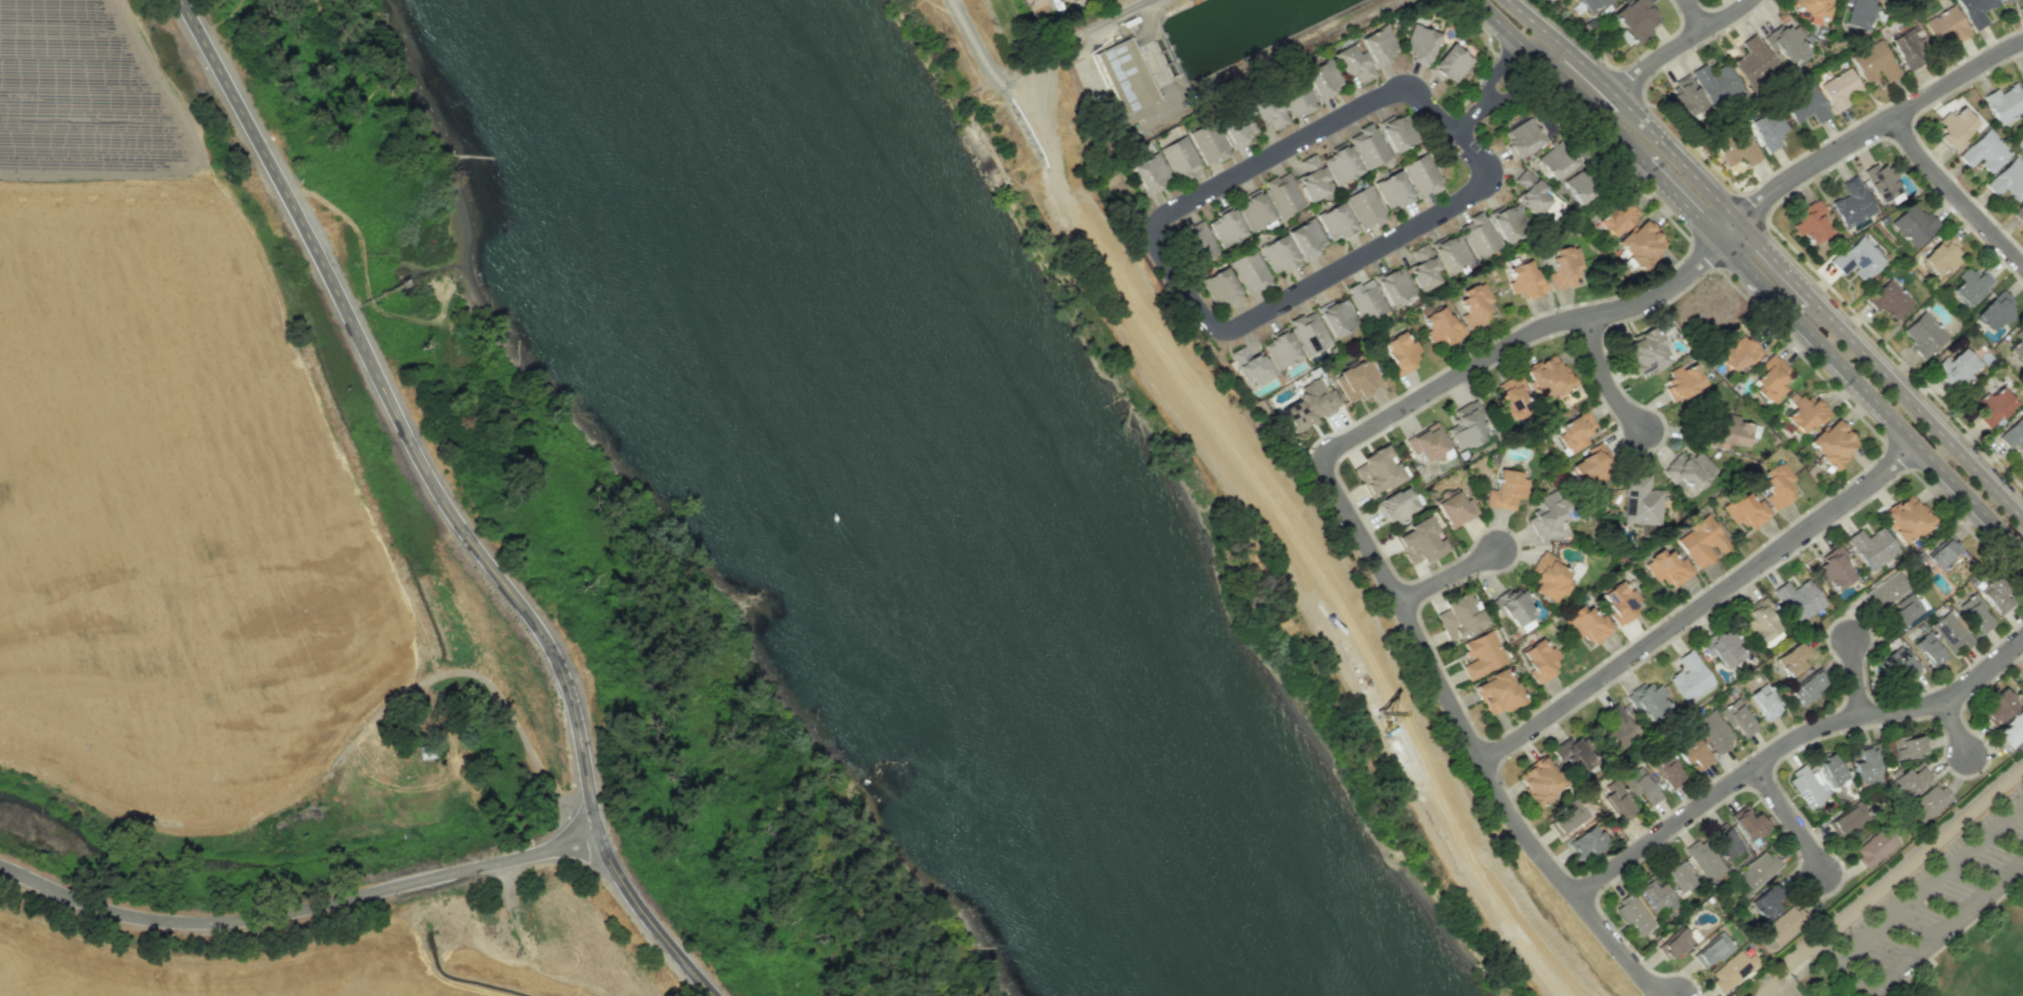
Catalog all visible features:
building: (1070, 0)
building: (2006, 0)
building: (2022, 2)
building: (1591, 3)
building: (1035, 6)
building: (1810, 9)
building: (1975, 11)
building: (1859, 13)
road: (1694, 14)
road: (1120, 15)
building: (1635, 18)
building: (1945, 27)
building: (1787, 42)
building: (1418, 43)
road: (1679, 43)
building: (1377, 45)
building: (1908, 46)
building: (1351, 61)
building: (1754, 61)
building: (1451, 63)
building: (1874, 63)
road: (1498, 67)
building: (1126, 75)
road: (1561, 77)
building: (1322, 79)
building: (1715, 82)
road: (1585, 84)
road: (1519, 89)
building: (1839, 89)
building: (1685, 95)
crop: (58, 99)
building: (1296, 99)
building: (2004, 103)
road: (1627, 105)
building: (1806, 106)
building: (1268, 113)
road: (1470, 116)
road: (1876, 124)
building: (1955, 127)
building: (1238, 129)
building: (1768, 131)
building: (1397, 132)
building: (1521, 137)
building: (1208, 143)
building: (1368, 145)
building: (1739, 150)
building: (1984, 151)
building: (1179, 158)
building: (1555, 159)
building: (1340, 163)
building: (1421, 175)
building: (1312, 178)
building: (2008, 180)
building: (1882, 181)
building: (1578, 187)
building: (1393, 190)
building: (1530, 192)
building: (1283, 193)
road: (1953, 195)
road: (1680, 200)
building: (1853, 205)
building: (1365, 207)
building: (1255, 210)
building: (2018, 212)
building: (1617, 217)
building: (1507, 221)
building: (1336, 222)
building: (1811, 222)
building: (1914, 224)
building: (1226, 227)
road: (1728, 230)
building: (1479, 236)
building: (1307, 238)
building: (1199, 240)
building: (1641, 243)
building: (1451, 253)
building: (1279, 255)
building: (1942, 255)
road: (1775, 260)
building: (1858, 262)
building: (1563, 266)
building: (1423, 269)
road: (364, 270)
building: (1251, 272)
building: (1523, 280)
building: (1394, 285)
building: (1971, 285)
building: (1221, 287)
building: (1889, 299)
building: (1365, 300)
building: (1475, 305)
building: (1995, 311)
building: (1337, 317)
building: (1441, 326)
road: (1215, 328)
building: (1310, 332)
building: (1923, 334)
road: (1519, 339)
building: (1281, 348)
building: (1401, 352)
building: (1645, 352)
building: (1737, 353)
building: (1251, 365)
building: (1956, 368)
building: (1547, 377)
road: (1602, 377)
building: (1772, 378)
building: (1357, 380)
building: (1682, 382)
road: (1871, 396)
building: (1512, 398)
building: (1310, 405)
building: (1994, 407)
road: (1917, 409)
building: (1805, 412)
building: (1467, 425)
building: (1575, 431)
building: (1729, 431)
building: (2014, 437)
building: (1427, 442)
building: (1833, 443)
building: (1591, 466)
building: (1687, 468)
building: (1777, 485)
building: (1506, 490)
road: (1264, 491)
river: (941, 499)
building: (1640, 501)
road: (445, 504)
building: (1396, 505)
building: (1455, 508)
building: (1745, 510)
crop: (173, 515)
building: (1548, 515)
building: (1906, 518)
building: (1419, 541)
building: (1702, 542)
building: (1872, 547)
building: (1942, 552)
building: (1667, 567)
building: (1834, 569)
road: (1448, 575)
building: (1549, 577)
building: (1885, 591)
building: (1994, 595)
building: (1797, 599)
building: (1620, 602)
road: (1700, 604)
building: (1514, 606)
building: (1902, 611)
building: (1975, 613)
building: (1460, 617)
building: (1760, 620)
building: (1587, 624)
building: (1950, 632)
building: (1723, 647)
building: (1928, 650)
building: (1483, 654)
building: (1792, 658)
building: (1540, 660)
building: (1900, 665)
building: (1690, 676)
road: (1855, 677)
building: (1806, 687)
building: (1498, 692)
building: (1648, 701)
building: (1763, 703)
building: (1999, 706)
building: (1737, 718)
road: (1955, 727)
building: (1617, 729)
building: (2012, 729)
building: (1713, 731)
road: (1472, 741)
road: (1788, 741)
building: (1907, 745)
building: (1692, 753)
building: (1575, 755)
building: (1866, 767)
building: (1830, 769)
building: (1668, 772)
building: (1908, 779)
building: (1540, 780)
building: (1640, 785)
building: (1807, 785)
building: (1617, 801)
building: (1928, 803)
building: (1570, 817)
road: (1788, 819)
building: (1846, 819)
building: (1748, 823)
building: (1587, 841)
building: (1725, 841)
building: (1874, 847)
building: (1703, 859)
building: (1758, 870)
building: (1678, 876)
road: (1890, 877)
road: (1930, 882)
building: (1656, 896)
parking lot: (1933, 899)
building: (1768, 902)
road: (298, 908)
park: (1923, 911)
building: (1633, 915)
building: (1786, 924)
road: (1928, 938)
building: (1677, 943)
building: (1713, 950)
road: (1827, 950)
crop: (350, 963)
park: (1990, 964)
building: (1732, 970)
road: (1788, 988)
parking lot: (1791, 993)

